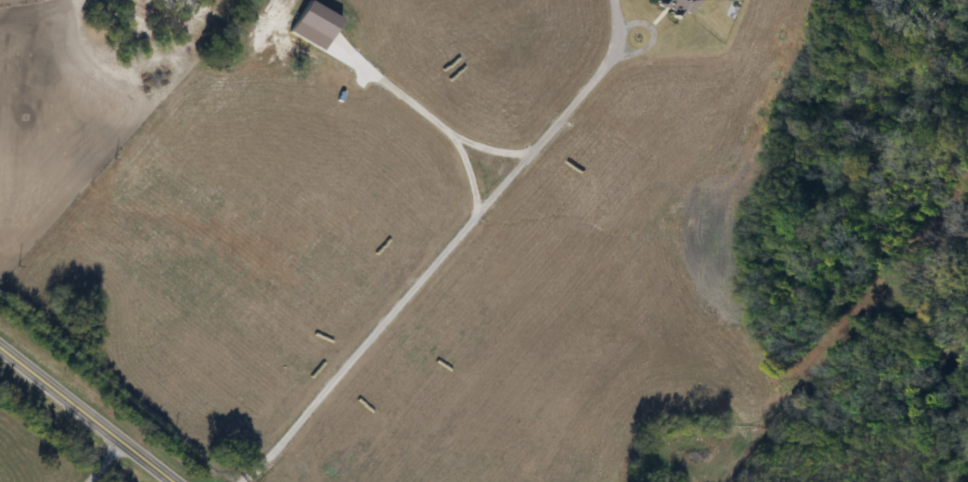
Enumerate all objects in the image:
road: (435, 261)
road: (87, 413)
road: (97, 459)

